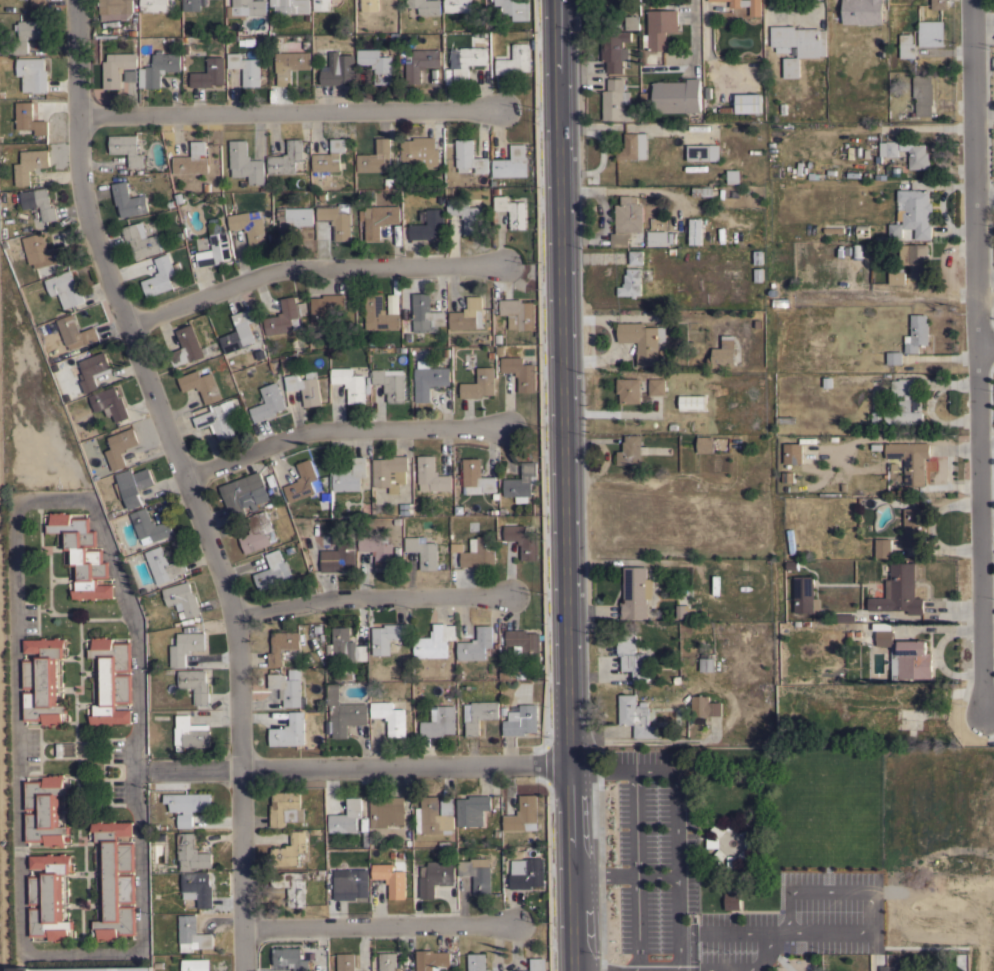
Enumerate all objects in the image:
building: (715, 0)
building: (38, 3)
building: (192, 4)
building: (939, 4)
building: (321, 5)
building: (368, 5)
building: (153, 6)
building: (290, 6)
building: (425, 6)
building: (457, 6)
building: (246, 8)
building: (514, 8)
building: (587, 8)
building: (115, 9)
building: (859, 11)
building: (755, 12)
road: (797, 16)
building: (632, 22)
building: (660, 28)
building: (931, 33)
building: (28, 34)
road: (694, 35)
building: (391, 38)
building: (798, 45)
building: (907, 46)
building: (614, 49)
building: (466, 60)
building: (515, 60)
building: (420, 63)
building: (290, 64)
building: (377, 64)
building: (117, 68)
building: (246, 68)
building: (158, 69)
building: (338, 69)
building: (209, 73)
building: (32, 74)
building: (131, 75)
building: (922, 94)
building: (677, 96)
building: (616, 101)
building: (747, 103)
road: (286, 113)
building: (29, 118)
building: (633, 147)
building: (127, 149)
building: (887, 150)
building: (417, 151)
building: (703, 152)
building: (915, 154)
building: (329, 157)
building: (469, 157)
building: (286, 158)
building: (376, 158)
building: (192, 160)
building: (245, 163)
building: (511, 163)
building: (29, 164)
building: (733, 176)
building: (702, 191)
building: (129, 201)
building: (39, 202)
building: (512, 211)
building: (466, 215)
building: (913, 215)
building: (293, 219)
building: (337, 219)
building: (380, 220)
building: (626, 220)
building: (428, 224)
building: (249, 227)
building: (693, 231)
building: (658, 238)
building: (141, 240)
building: (214, 250)
building: (858, 250)
building: (44, 251)
building: (635, 257)
building: (758, 257)
building: (915, 259)
road: (309, 270)
building: (160, 275)
building: (897, 276)
building: (631, 283)
building: (65, 289)
building: (392, 303)
building: (325, 307)
building: (518, 313)
building: (379, 314)
building: (426, 314)
building: (468, 315)
building: (285, 316)
building: (239, 332)
building: (75, 333)
building: (917, 333)
building: (642, 340)
building: (757, 342)
road: (984, 344)
building: (188, 346)
building: (724, 353)
road: (975, 356)
building: (894, 357)
building: (91, 370)
building: (520, 372)
building: (429, 379)
building: (351, 383)
building: (390, 383)
building: (479, 384)
building: (201, 385)
building: (656, 386)
building: (305, 387)
building: (628, 390)
building: (691, 401)
building: (109, 403)
building: (268, 403)
building: (905, 403)
building: (215, 420)
road: (342, 432)
building: (705, 444)
building: (119, 447)
building: (631, 450)
building: (792, 453)
building: (807, 454)
building: (910, 460)
building: (390, 472)
building: (349, 475)
building: (431, 475)
building: (476, 477)
road: (188, 478)
building: (301, 482)
building: (521, 483)
building: (132, 485)
road: (565, 485)
building: (244, 493)
building: (406, 508)
building: (149, 527)
building: (914, 527)
building: (258, 532)
building: (523, 540)
building: (882, 548)
building: (378, 551)
building: (423, 551)
building: (477, 551)
building: (82, 555)
building: (338, 557)
building: (163, 565)
building: (272, 571)
building: (899, 591)
building: (635, 592)
building: (805, 595)
building: (182, 598)
road: (370, 598)
building: (684, 612)
building: (844, 617)
building: (386, 637)
building: (434, 641)
building: (347, 644)
building: (476, 644)
building: (524, 644)
building: (184, 646)
building: (283, 647)
building: (904, 654)
building: (632, 656)
building: (707, 664)
building: (111, 680)
building: (42, 681)
building: (195, 684)
building: (287, 689)
building: (705, 706)
building: (344, 713)
building: (479, 714)
building: (636, 716)
building: (390, 717)
building: (521, 720)
building: (439, 721)
road: (18, 727)
building: (289, 731)
building: (190, 733)
road: (136, 744)
road: (404, 768)
road: (187, 771)
building: (187, 805)
parking lot: (655, 807)
building: (286, 808)
building: (472, 809)
building: (44, 810)
building: (385, 810)
building: (523, 814)
building: (435, 815)
building: (346, 816)
building: (731, 823)
building: (718, 829)
building: (745, 829)
building: (713, 842)
building: (751, 842)
road: (675, 849)
building: (290, 850)
building: (191, 853)
building: (718, 855)
building: (745, 855)
building: (732, 861)
road: (636, 869)
building: (477, 873)
road: (604, 873)
building: (529, 874)
building: (436, 876)
building: (391, 877)
building: (115, 880)
building: (351, 885)
building: (293, 886)
building: (197, 888)
building: (48, 897)
building: (732, 900)
road: (870, 919)
road: (378, 925)
road: (726, 931)
building: (192, 934)
building: (290, 958)
building: (434, 960)
building: (388, 961)
building: (345, 962)
building: (477, 962)
building: (538, 964)
building: (195, 965)
building: (85, 968)
building: (894, 968)
road: (675, 970)

